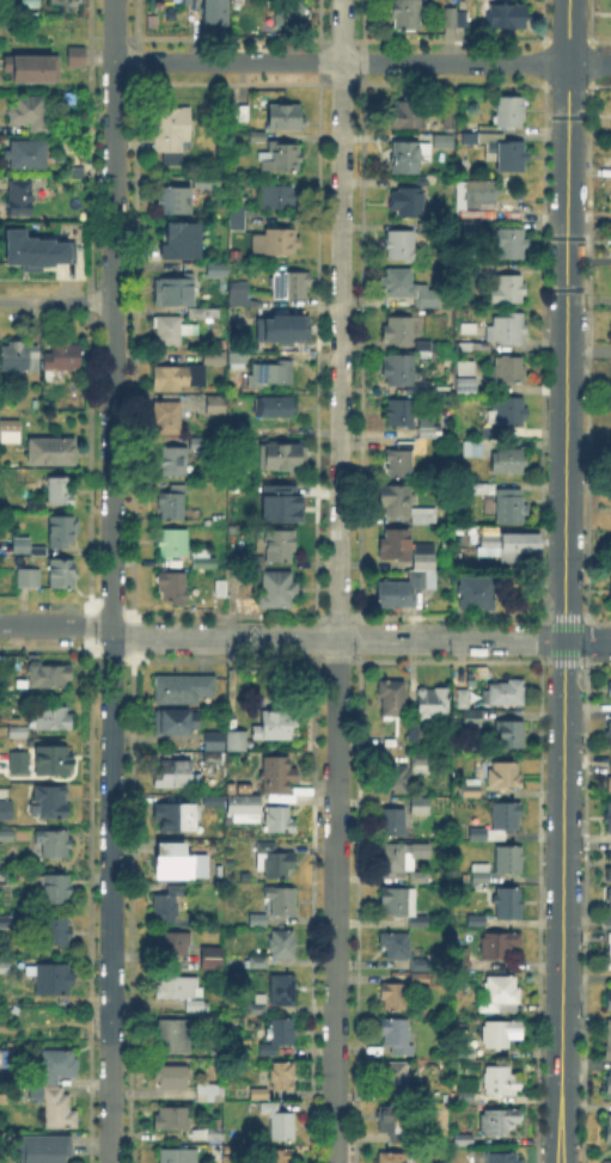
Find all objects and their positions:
building: (294, 12)
building: (216, 14)
building: (405, 14)
building: (507, 18)
building: (456, 20)
road: (227, 37)
road: (136, 48)
building: (77, 59)
road: (362, 61)
building: (33, 69)
building: (508, 112)
building: (31, 115)
building: (409, 116)
building: (285, 117)
building: (172, 133)
building: (258, 139)
building: (444, 142)
building: (499, 151)
building: (26, 155)
building: (282, 158)
building: (410, 159)
building: (201, 185)
building: (280, 197)
building: (19, 198)
building: (175, 201)
building: (479, 201)
building: (408, 202)
building: (237, 221)
building: (469, 227)
road: (567, 239)
building: (178, 240)
building: (276, 243)
building: (512, 244)
building: (402, 246)
building: (32, 249)
building: (219, 271)
building: (291, 286)
building: (408, 289)
building: (508, 290)
building: (179, 293)
building: (238, 294)
road: (56, 301)
road: (112, 316)
building: (200, 316)
building: (261, 316)
building: (288, 330)
building: (469, 330)
building: (508, 330)
building: (173, 331)
building: (398, 331)
building: (473, 347)
building: (424, 350)
building: (62, 359)
building: (238, 359)
building: (18, 360)
building: (401, 371)
building: (508, 371)
building: (188, 373)
building: (268, 375)
building: (465, 378)
building: (420, 391)
building: (216, 406)
building: (275, 409)
building: (508, 412)
building: (401, 414)
building: (167, 417)
building: (429, 430)
building: (11, 433)
building: (491, 434)
building: (198, 443)
building: (475, 449)
building: (51, 453)
building: (285, 458)
building: (175, 461)
building: (401, 461)
building: (508, 463)
building: (479, 488)
building: (61, 494)
building: (280, 502)
building: (172, 504)
building: (404, 506)
building: (511, 507)
building: (35, 509)
building: (62, 532)
building: (172, 545)
building: (281, 545)
building: (396, 546)
building: (513, 546)
building: (20, 550)
building: (37, 550)
building: (203, 561)
building: (252, 567)
building: (424, 568)
building: (28, 579)
building: (62, 579)
road: (338, 581)
building: (228, 587)
building: (172, 588)
building: (277, 590)
building: (396, 595)
building: (478, 595)
road: (56, 625)
road: (361, 639)
building: (47, 677)
road: (563, 677)
building: (609, 687)
building: (183, 690)
building: (509, 693)
building: (392, 699)
building: (464, 700)
building: (433, 702)
building: (471, 718)
building: (53, 720)
building: (176, 723)
building: (273, 724)
building: (23, 732)
building: (414, 734)
building: (511, 735)
building: (609, 735)
building: (236, 741)
building: (215, 742)
building: (214, 759)
building: (53, 760)
building: (18, 761)
building: (421, 764)
building: (610, 767)
building: (172, 773)
building: (277, 776)
building: (505, 777)
building: (396, 781)
building: (470, 790)
building: (51, 801)
building: (421, 807)
building: (6, 809)
building: (244, 810)
building: (178, 816)
building: (610, 819)
building: (279, 821)
building: (395, 824)
building: (500, 824)
building: (6, 835)
building: (53, 846)
building: (610, 850)
building: (398, 858)
building: (175, 861)
building: (509, 861)
building: (274, 862)
building: (609, 874)
building: (481, 875)
building: (420, 876)
building: (53, 890)
road: (110, 896)
building: (280, 902)
building: (399, 902)
building: (167, 905)
building: (508, 905)
building: (609, 912)
building: (5, 919)
building: (258, 920)
building: (477, 922)
building: (418, 923)
building: (55, 935)
building: (175, 943)
building: (500, 944)
building: (283, 947)
building: (397, 947)
building: (609, 954)
building: (210, 959)
building: (463, 959)
building: (421, 962)
building: (259, 965)
building: (5, 967)
building: (420, 977)
building: (49, 980)
building: (179, 988)
building: (283, 991)
building: (501, 996)
building: (393, 997)
building: (609, 1002)
building: (196, 1006)
building: (257, 1006)
road: (562, 1020)
road: (55, 1026)
building: (502, 1034)
building: (276, 1036)
building: (173, 1037)
building: (397, 1037)
building: (607, 1041)
building: (468, 1048)
building: (56, 1065)
building: (395, 1076)
building: (283, 1077)
building: (172, 1078)
building: (501, 1084)
building: (607, 1085)
building: (206, 1090)
building: (259, 1094)
building: (465, 1094)
building: (610, 1094)
building: (57, 1107)
building: (270, 1109)
building: (173, 1120)
building: (497, 1121)
building: (391, 1122)
building: (282, 1127)
building: (607, 1132)
building: (213, 1133)
building: (464, 1140)
building: (44, 1150)
building: (178, 1157)
building: (277, 1157)
building: (393, 1158)
building: (502, 1158)
building: (231, 1161)
building: (605, 1161)

